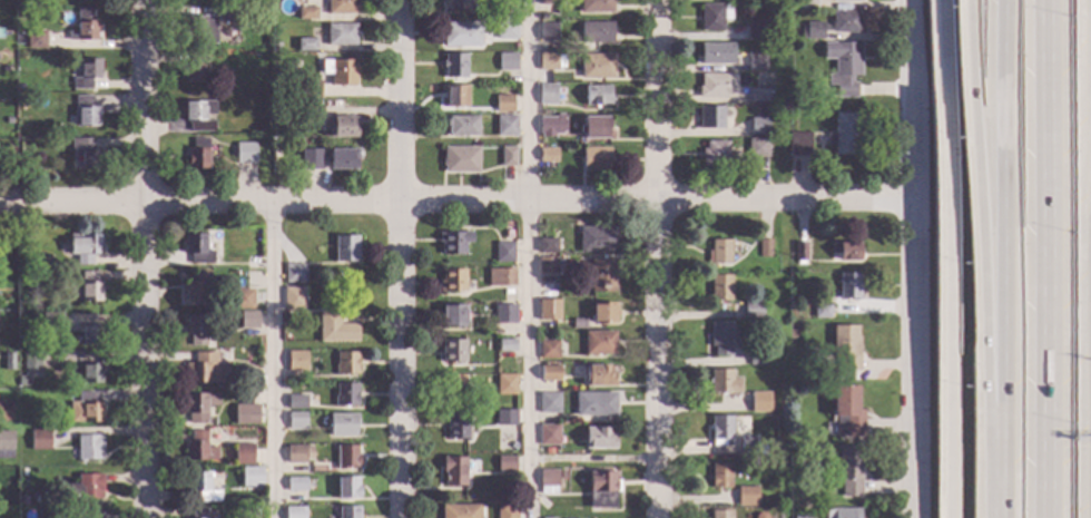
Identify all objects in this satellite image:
building: (750, 0)
building: (843, 1)
building: (551, 2)
road: (1041, 2)
building: (805, 3)
building: (456, 4)
building: (340, 7)
building: (594, 7)
building: (263, 10)
building: (306, 13)
building: (230, 16)
building: (714, 17)
building: (844, 22)
building: (86, 26)
building: (199, 29)
building: (757, 29)
building: (505, 31)
building: (810, 31)
building: (548, 32)
building: (596, 33)
building: (341, 35)
building: (461, 35)
building: (773, 36)
building: (36, 40)
building: (305, 45)
building: (275, 47)
building: (554, 48)
building: (716, 53)
building: (550, 61)
building: (755, 61)
building: (507, 62)
building: (453, 66)
building: (597, 67)
building: (842, 67)
building: (4, 69)
building: (194, 69)
building: (340, 71)
building: (86, 74)
building: (277, 75)
building: (209, 84)
building: (716, 87)
building: (18, 89)
building: (308, 89)
building: (813, 90)
building: (549, 95)
building: (597, 96)
building: (757, 96)
building: (454, 97)
building: (503, 104)
building: (85, 111)
building: (313, 111)
building: (198, 115)
building: (710, 118)
building: (8, 121)
building: (19, 121)
building: (342, 126)
building: (461, 126)
building: (505, 126)
building: (551, 126)
building: (757, 126)
building: (594, 127)
building: (844, 134)
building: (798, 144)
building: (757, 148)
building: (87, 154)
building: (197, 154)
building: (245, 154)
building: (275, 154)
building: (715, 154)
building: (547, 155)
building: (508, 157)
building: (311, 159)
building: (342, 159)
building: (460, 159)
building: (594, 159)
road: (454, 202)
road: (995, 228)
road: (974, 229)
building: (596, 240)
building: (453, 243)
building: (547, 245)
building: (85, 247)
building: (345, 248)
building: (764, 248)
building: (197, 250)
building: (845, 251)
building: (503, 252)
building: (718, 253)
building: (798, 253)
building: (560, 257)
road: (144, 258)
road: (395, 258)
road: (529, 258)
road: (659, 258)
road: (910, 258)
road: (945, 258)
building: (20, 260)
road: (1043, 261)
building: (547, 265)
building: (294, 274)
building: (601, 275)
building: (500, 277)
building: (451, 281)
building: (195, 286)
building: (847, 286)
building: (89, 287)
building: (719, 287)
building: (293, 299)
building: (243, 300)
building: (20, 304)
building: (790, 304)
building: (751, 310)
building: (548, 311)
building: (820, 312)
building: (602, 313)
building: (504, 314)
building: (452, 316)
building: (248, 321)
building: (51, 323)
building: (578, 324)
building: (196, 329)
building: (335, 329)
building: (90, 335)
building: (719, 338)
building: (750, 339)
building: (599, 343)
building: (505, 345)
building: (844, 349)
building: (548, 350)
building: (452, 351)
building: (757, 356)
building: (8, 361)
road: (272, 361)
building: (296, 361)
building: (31, 362)
building: (345, 364)
building: (206, 369)
building: (70, 371)
building: (548, 373)
building: (91, 374)
building: (598, 375)
building: (23, 381)
building: (254, 382)
building: (724, 383)
building: (505, 385)
building: (451, 387)
building: (345, 395)
building: (296, 402)
building: (759, 402)
building: (548, 403)
building: (594, 404)
building: (199, 407)
building: (85, 409)
building: (6, 411)
building: (846, 412)
building: (245, 414)
building: (505, 418)
building: (296, 421)
building: (454, 423)
building: (342, 424)
building: (720, 431)
building: (547, 437)
building: (598, 438)
building: (39, 440)
building: (6, 444)
building: (500, 444)
building: (747, 447)
building: (89, 448)
building: (198, 448)
building: (243, 453)
building: (295, 455)
building: (346, 457)
building: (505, 463)
building: (848, 471)
building: (22, 472)
building: (453, 472)
building: (719, 476)
building: (250, 478)
building: (548, 482)
building: (295, 485)
building: (86, 487)
building: (202, 487)
building: (347, 488)
road: (997, 488)
building: (601, 490)
building: (746, 497)
building: (261, 500)
building: (22, 501)
building: (254, 511)
building: (460, 511)
building: (505, 511)
building: (24, 512)
building: (294, 512)
building: (347, 512)
building: (198, 514)
building: (719, 514)
building: (841, 514)
building: (83, 516)
building: (802, 517)

